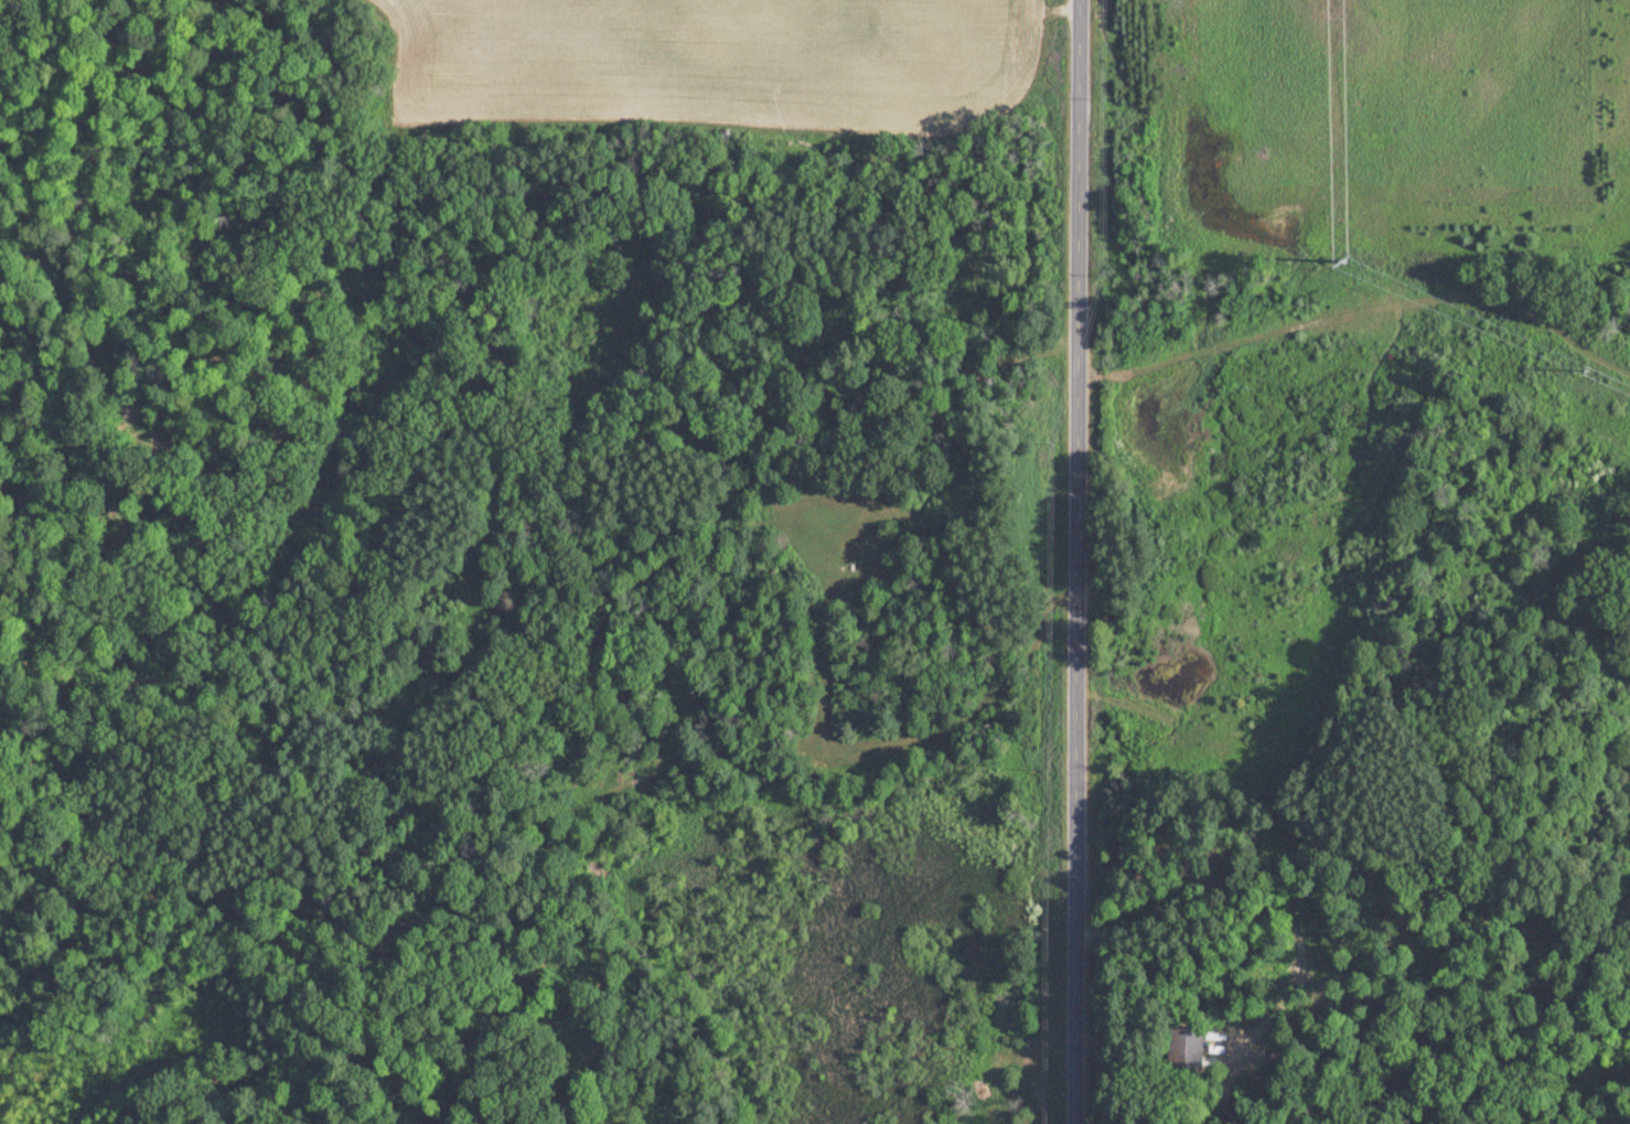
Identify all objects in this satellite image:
power tower: (1341, 265)
power tower: (1587, 371)
road: (1071, 561)

